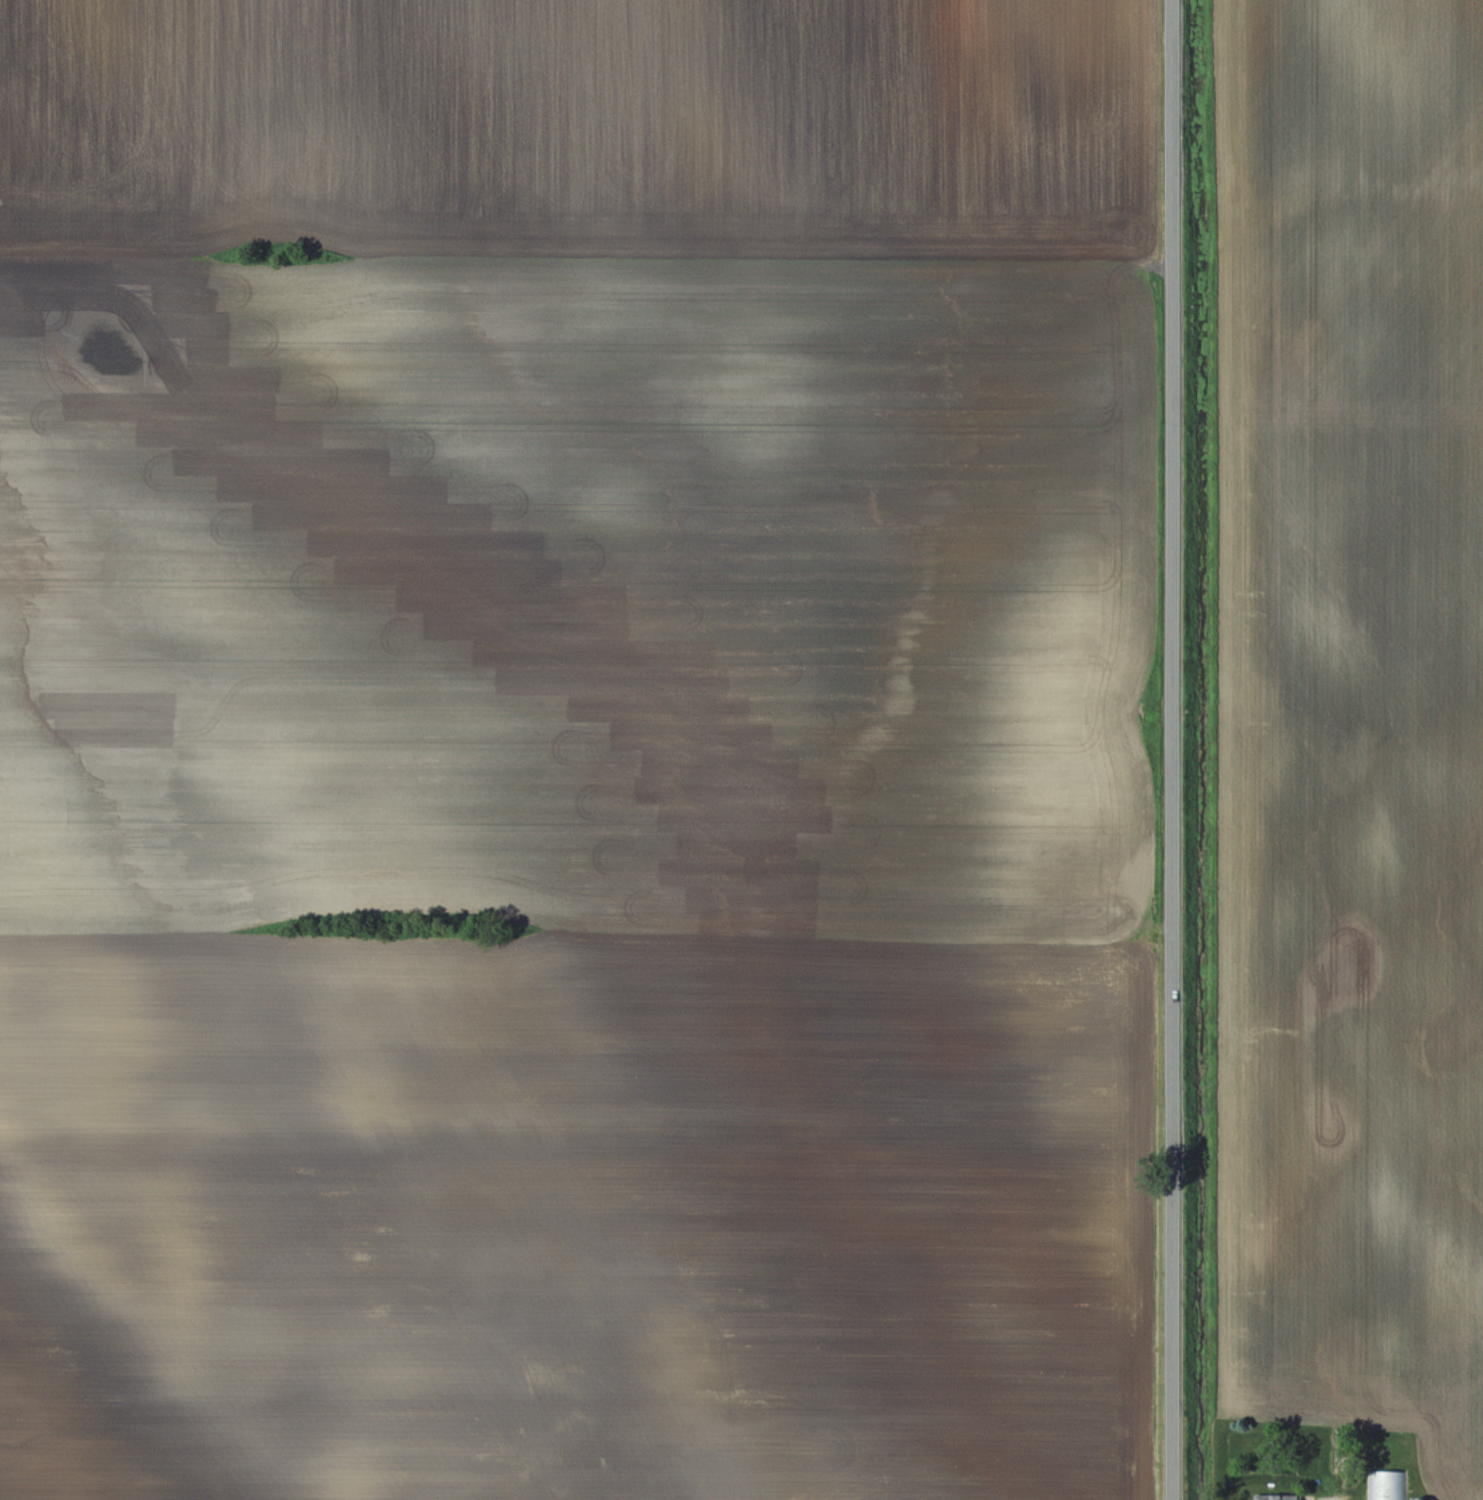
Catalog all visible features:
road: (1179, 750)

